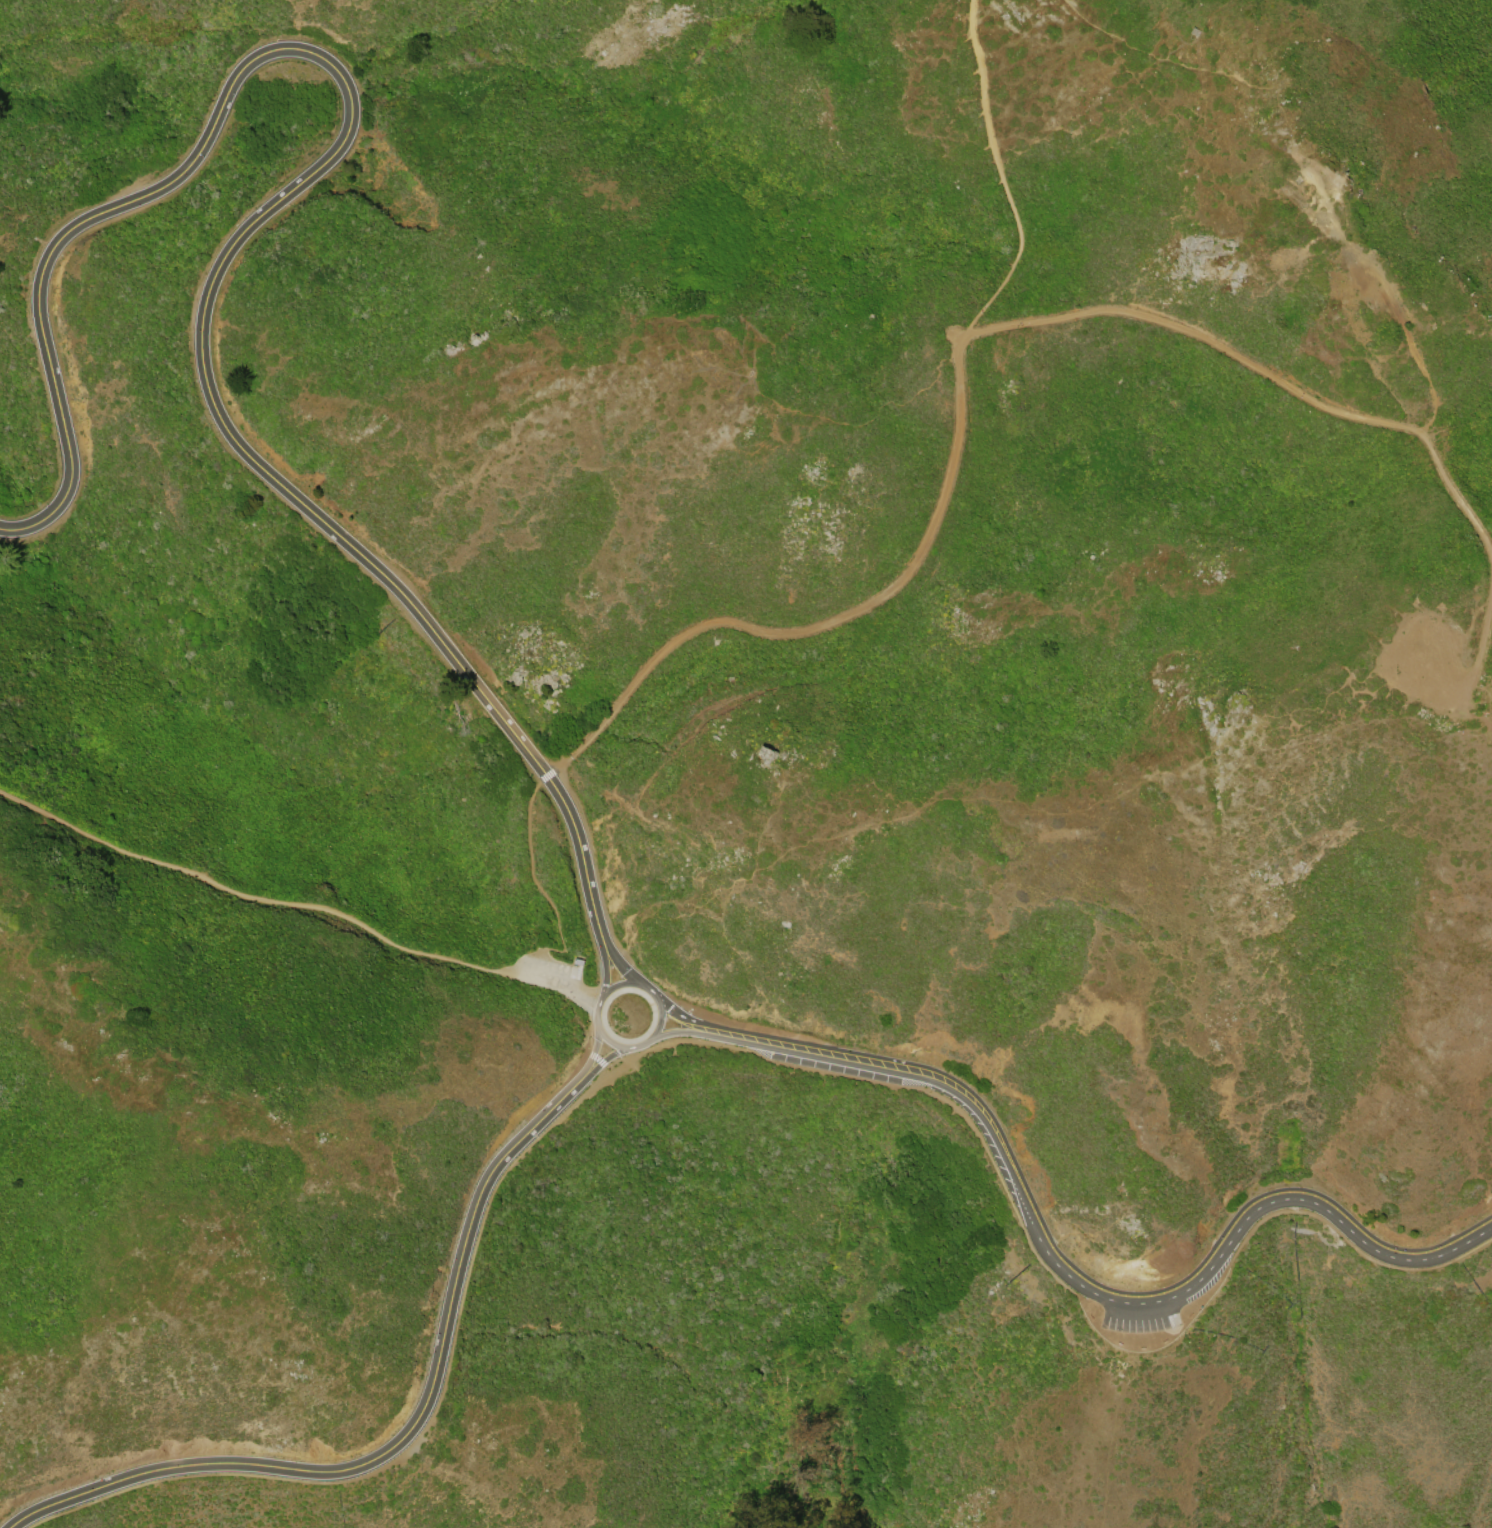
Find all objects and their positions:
road: (331, 157)
road: (1000, 174)
road: (1265, 371)
road: (829, 623)
road: (1476, 673)
road: (583, 861)
road: (537, 883)
road: (245, 894)
building: (580, 961)
road: (620, 966)
road: (515, 969)
road: (605, 971)
parking lot: (557, 979)
road: (561, 980)
road: (619, 984)
road: (649, 989)
road: (600, 999)
road: (678, 1015)
road: (596, 1016)
road: (660, 1019)
road: (676, 1031)
road: (610, 1040)
road: (640, 1045)
road: (586, 1050)
road: (593, 1051)
road: (596, 1056)
road: (604, 1058)
parking lot: (837, 1067)
road: (1078, 1275)
parking lot: (1138, 1322)
road: (422, 1426)
road: (400, 1434)

